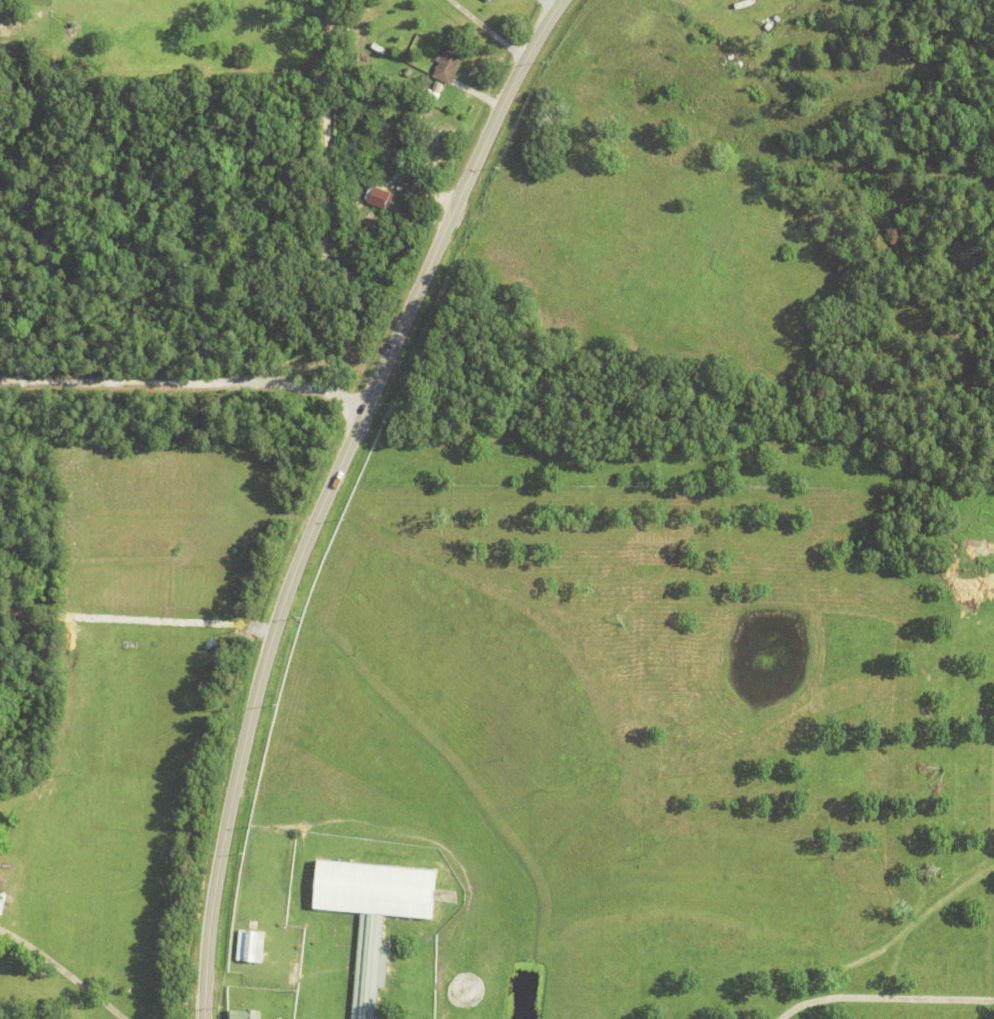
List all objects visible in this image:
building: (489, 0)
building: (492, 0)
building: (637, 21)
road: (490, 29)
building: (378, 46)
building: (447, 64)
building: (799, 74)
building: (410, 130)
building: (385, 154)
road: (326, 194)
building: (379, 196)
road: (184, 379)
road: (329, 491)
building: (245, 884)
building: (373, 914)
building: (247, 946)
building: (425, 963)
road: (60, 973)
road: (882, 995)
building: (301, 1011)
building: (245, 1014)

